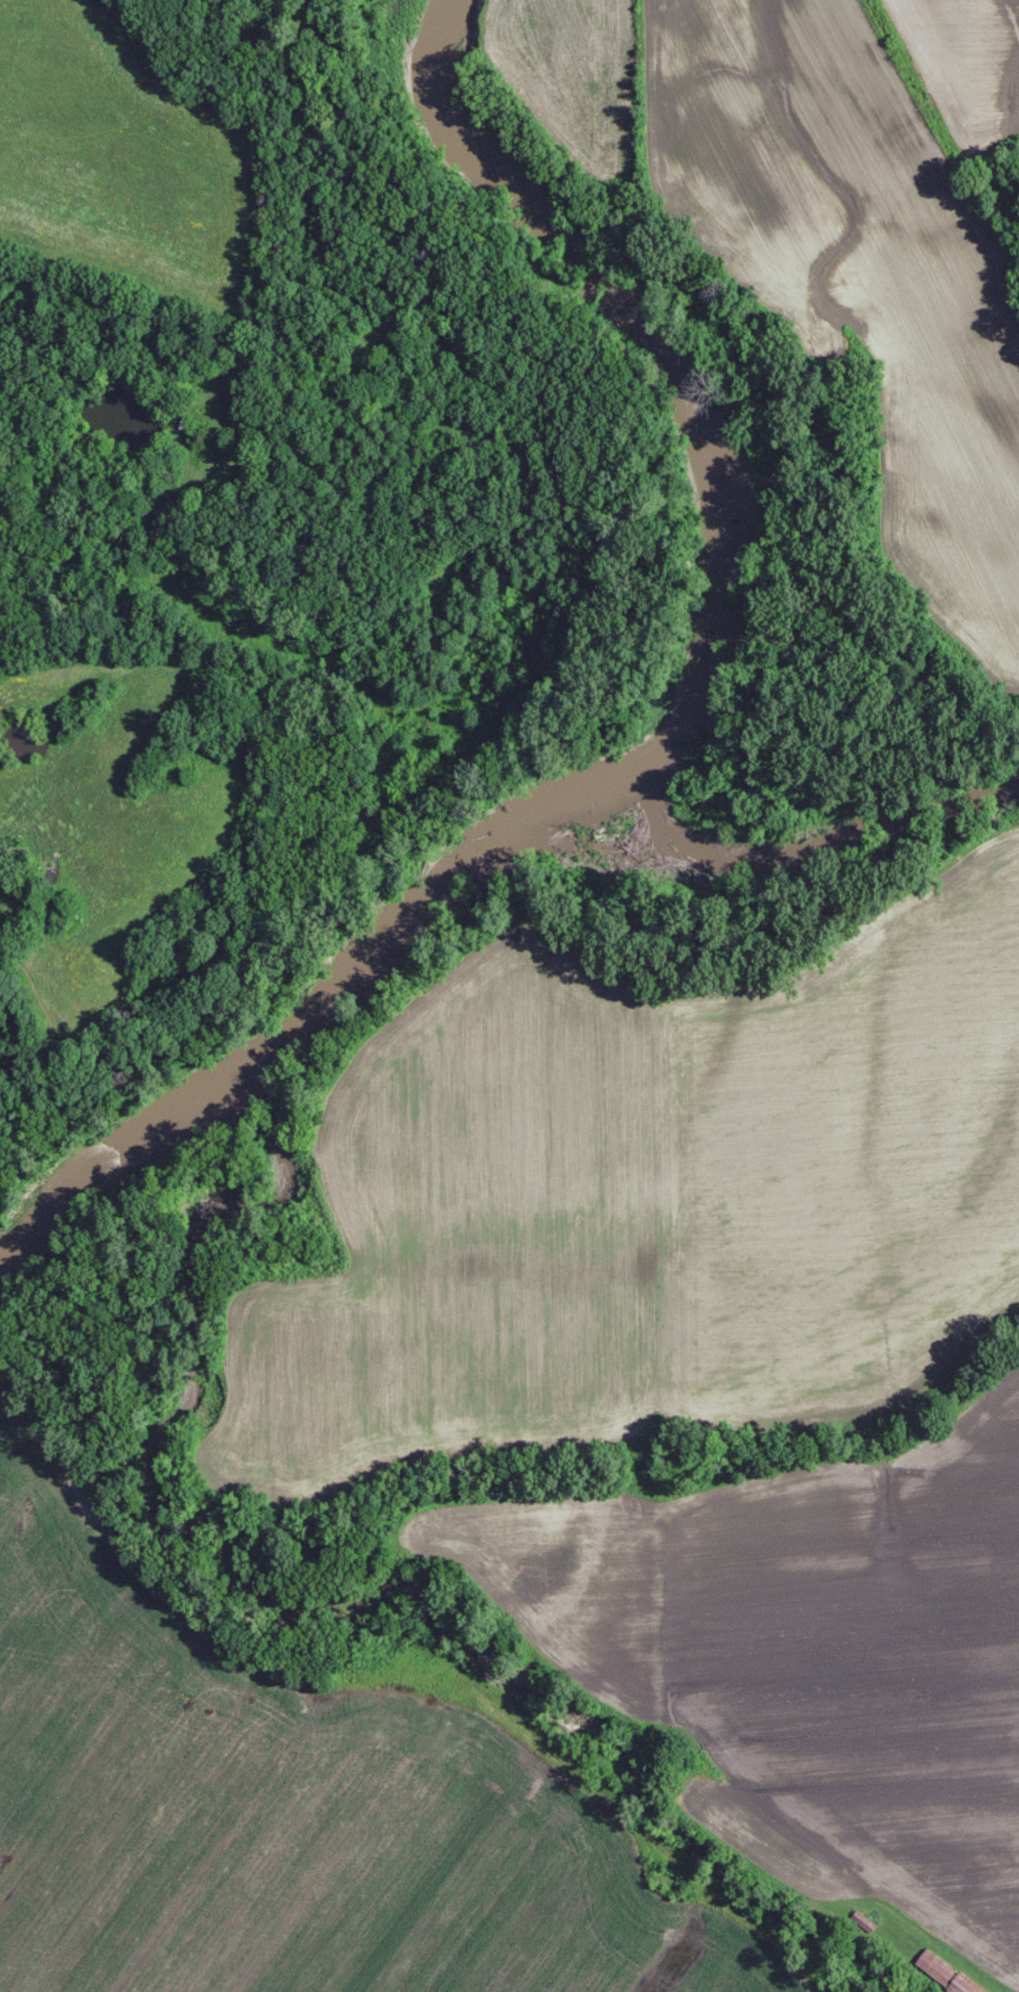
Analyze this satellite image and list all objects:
crop: (216, 1792)
crop: (603, 1917)
building: (944, 1974)

